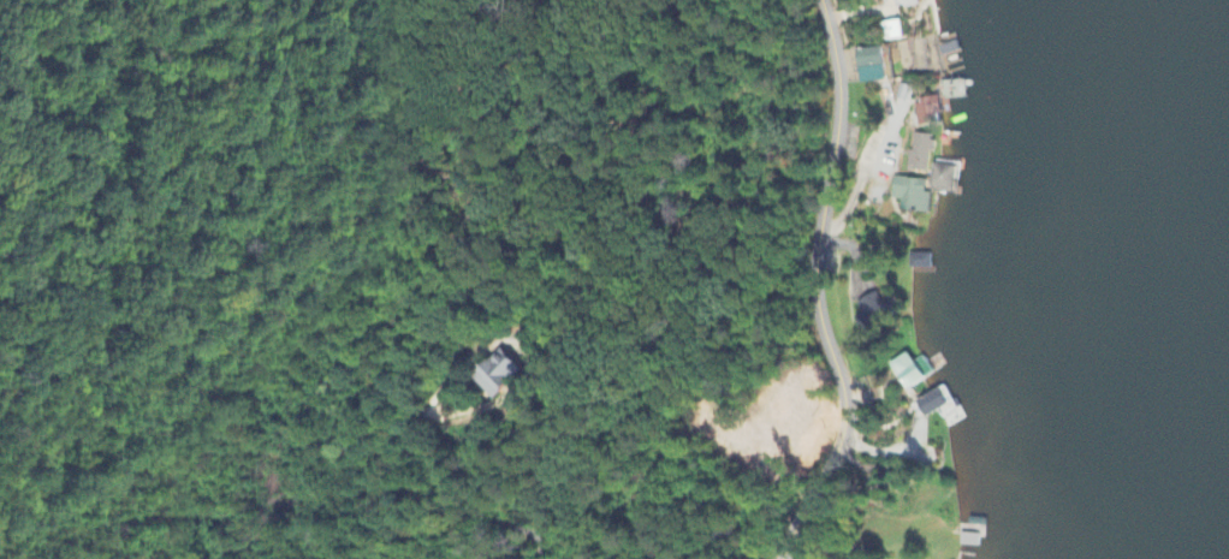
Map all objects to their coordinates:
building: (902, 2)
building: (871, 66)
building: (921, 112)
building: (913, 154)
building: (938, 179)
building: (906, 196)
road: (815, 287)
building: (867, 310)
road: (521, 355)
building: (904, 371)
building: (499, 375)
building: (926, 405)
road: (441, 511)

